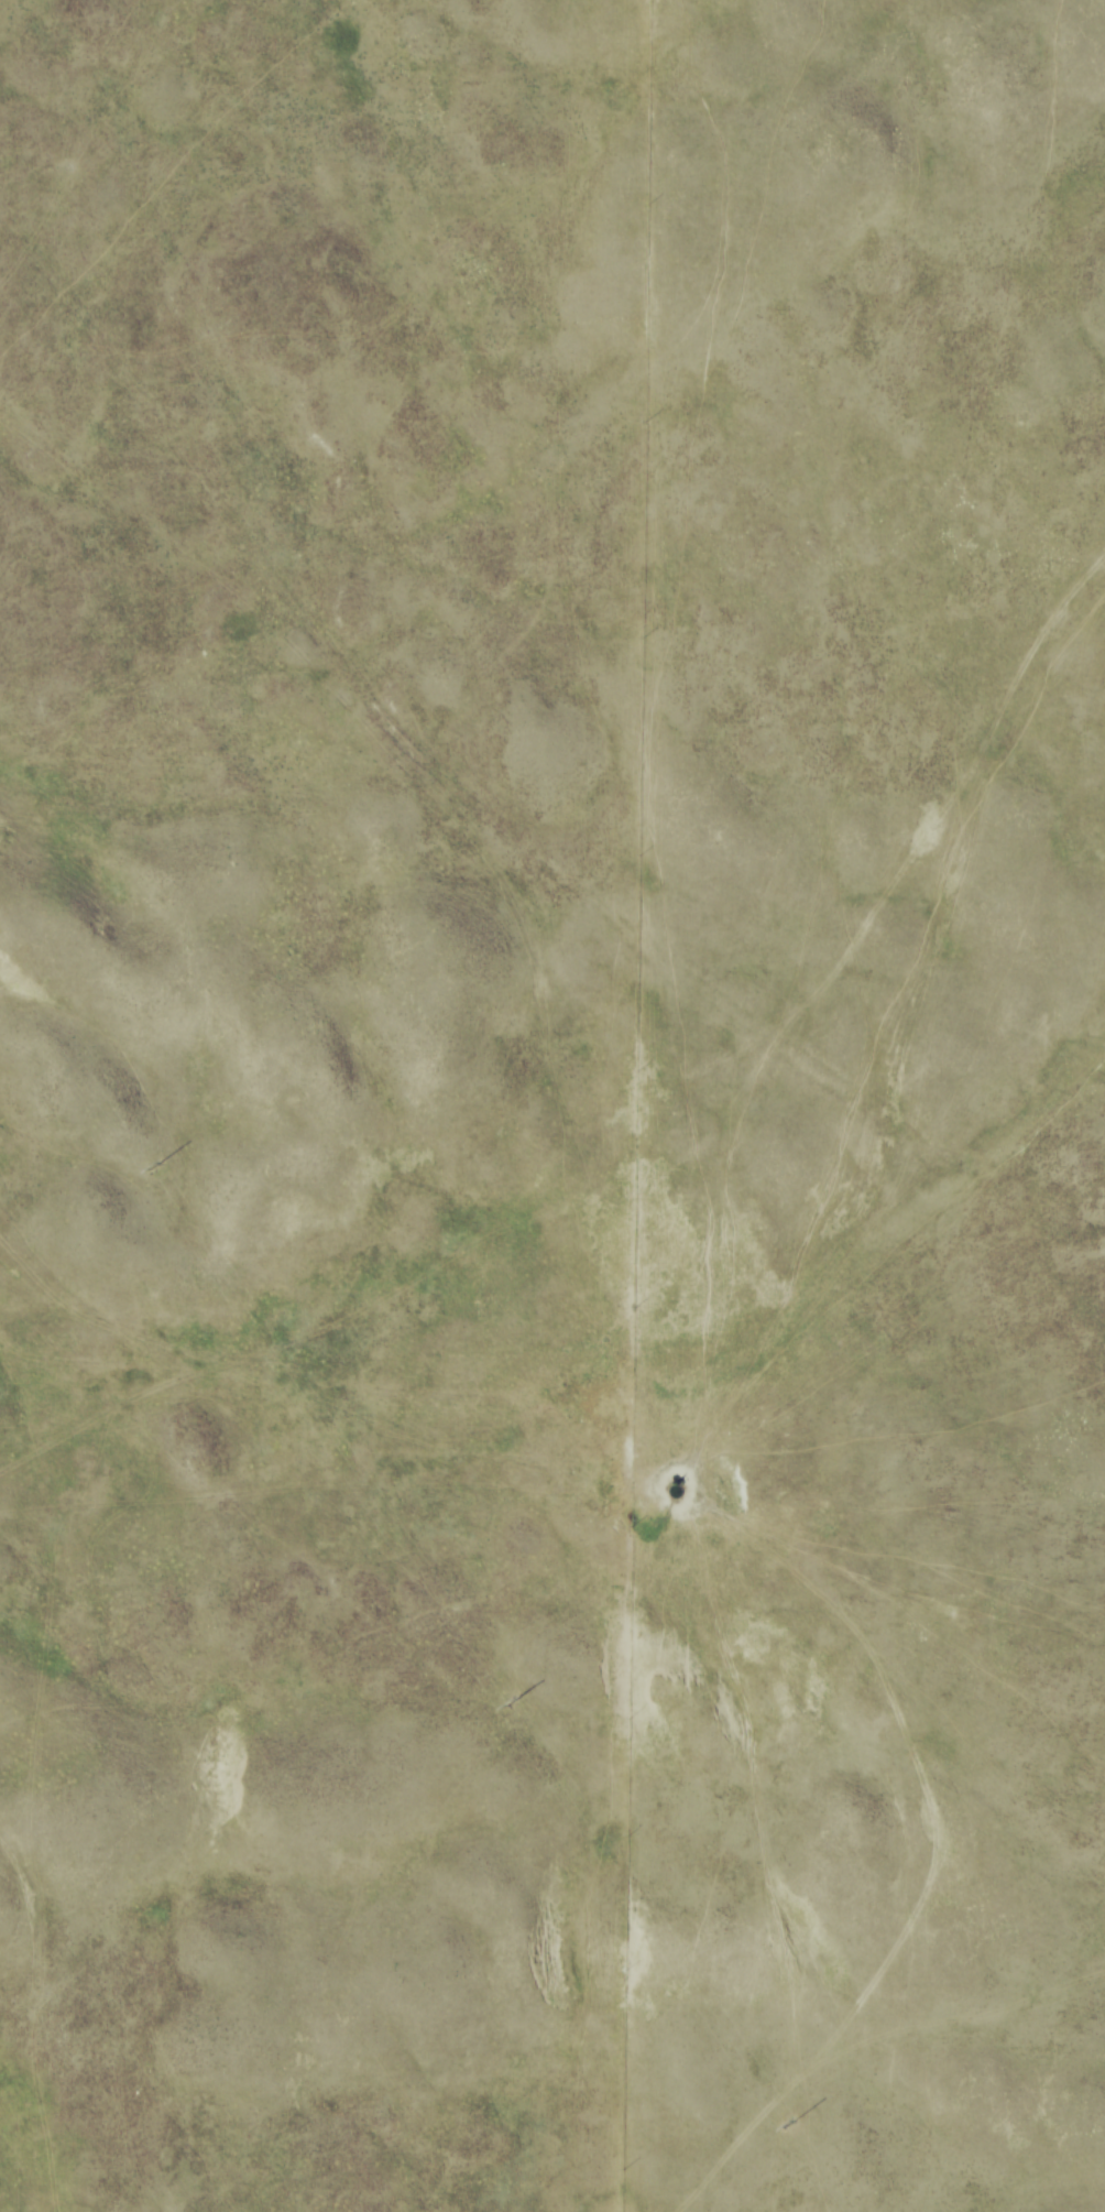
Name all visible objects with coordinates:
power tower: (161, 1165)
power tower: (516, 1701)
power tower: (795, 2122)

